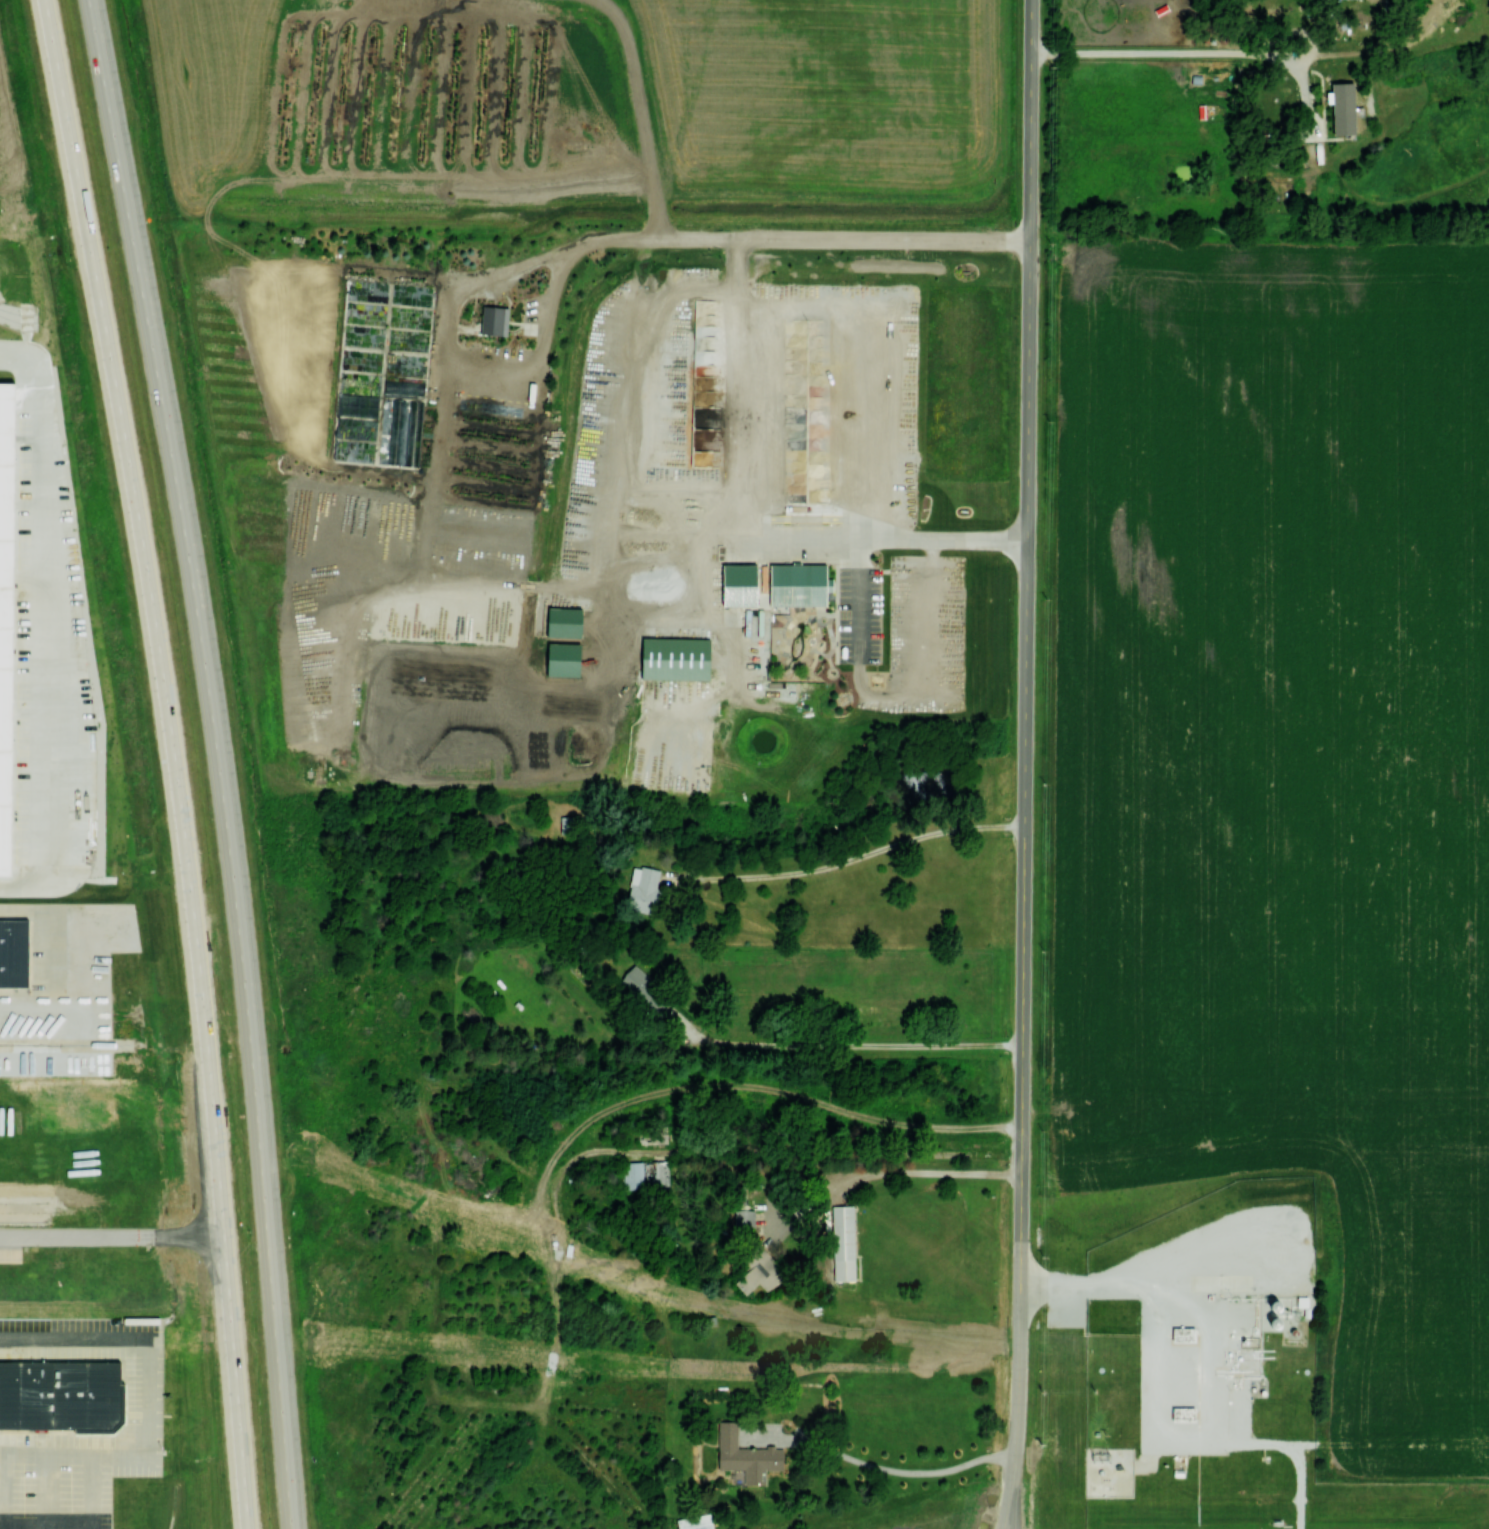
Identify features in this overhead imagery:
road: (1295, 35)
road: (1313, 44)
road: (1163, 52)
road: (1304, 57)
road: (1354, 70)
road: (1308, 97)
building: (1343, 108)
road: (750, 239)
building: (494, 320)
road: (749, 521)
building: (739, 584)
building: (797, 584)
building: (6, 617)
building: (675, 658)
building: (563, 659)
road: (1025, 728)
road: (221, 760)
building: (567, 825)
building: (14, 952)
building: (639, 983)
road: (848, 1044)
building: (654, 1137)
building: (656, 1172)
building: (633, 1175)
building: (744, 1218)
road: (74, 1235)
building: (843, 1242)
building: (760, 1273)
building: (1183, 1334)
building: (61, 1395)
building: (1183, 1414)
building: (746, 1455)
road: (881, 1468)
road: (1009, 1492)
building: (695, 1522)

